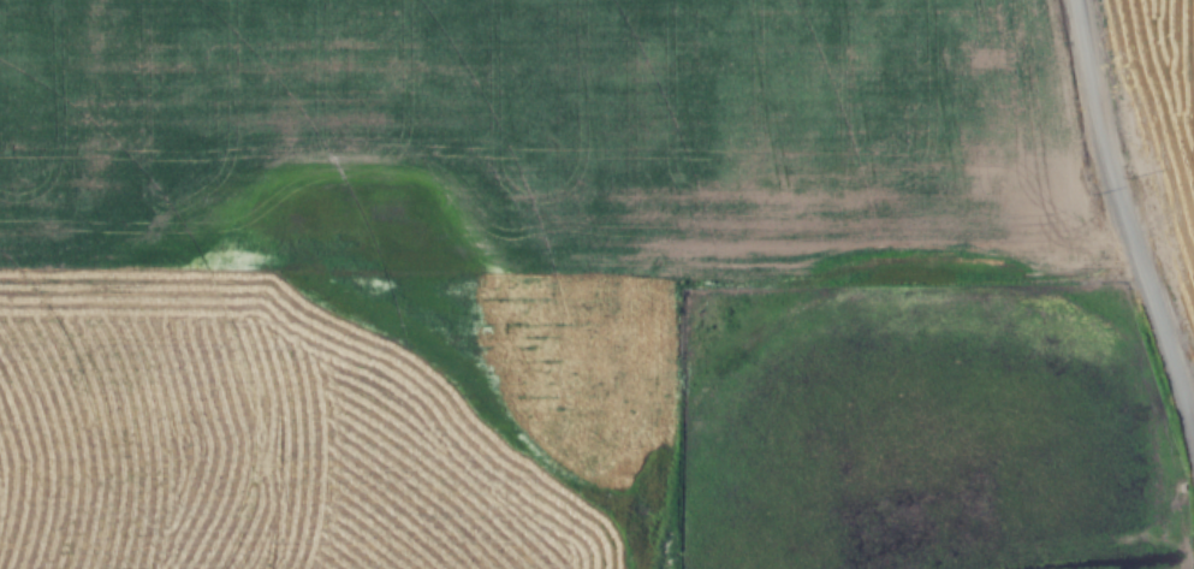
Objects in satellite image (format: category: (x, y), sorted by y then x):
road: (1134, 238)

